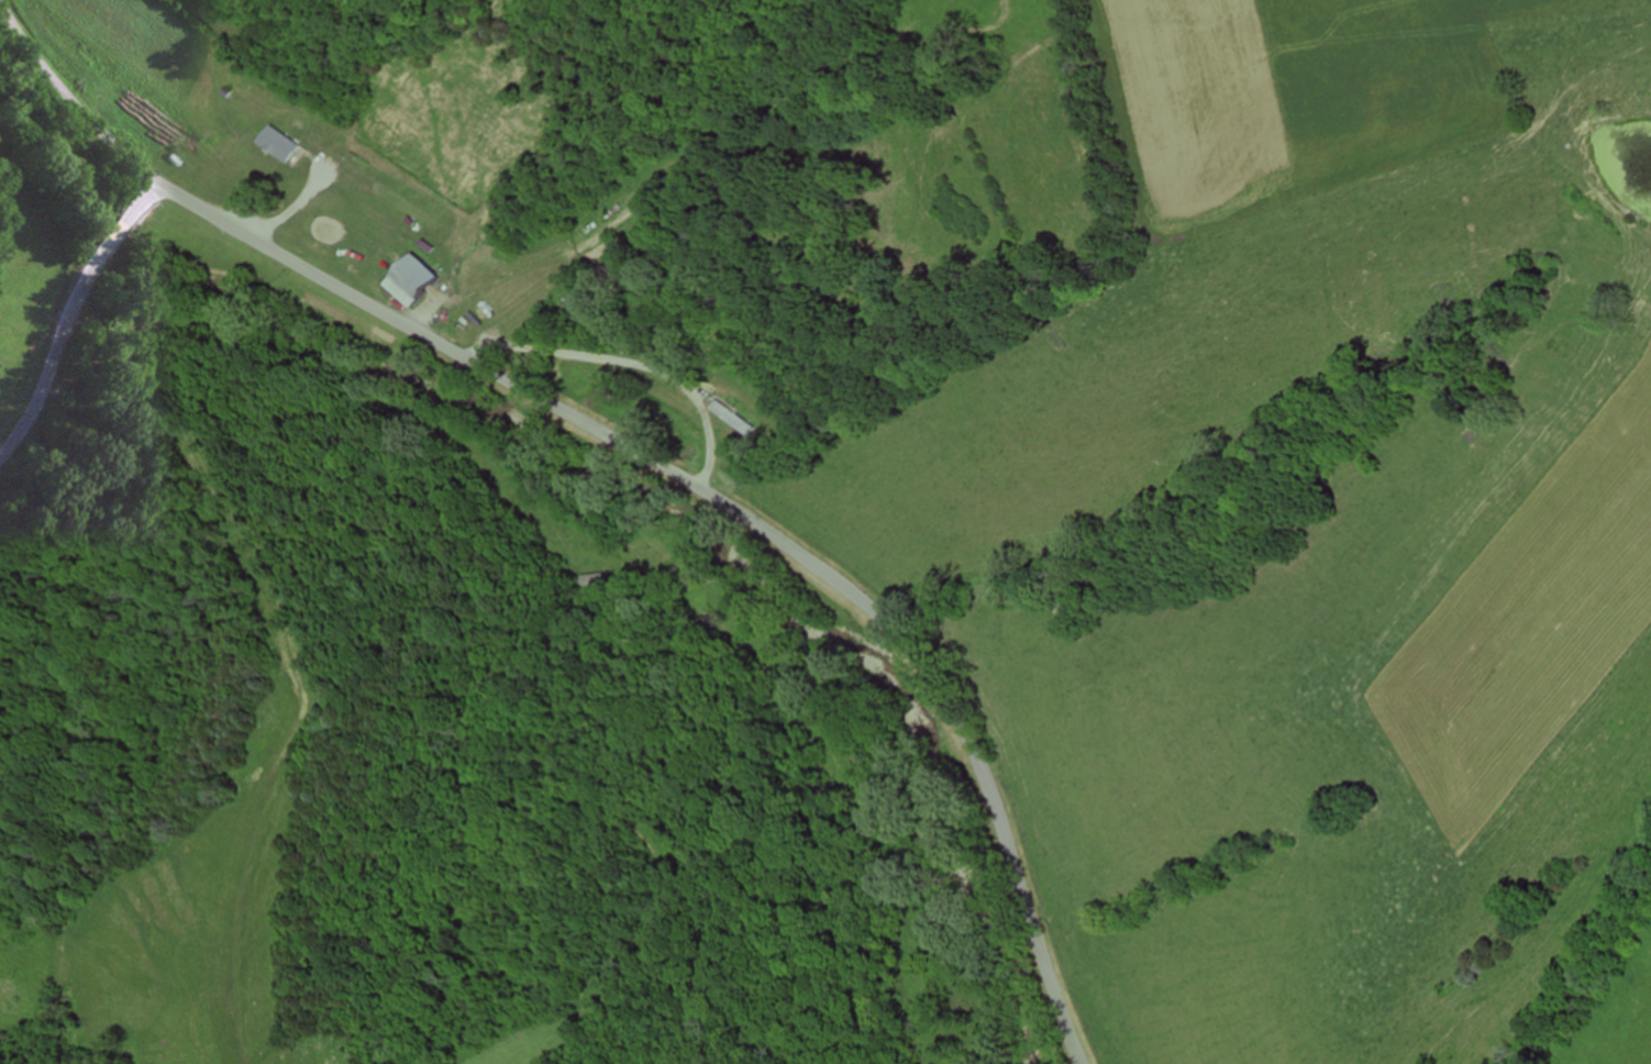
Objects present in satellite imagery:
building: (281, 143)
building: (418, 281)
road: (69, 314)
building: (733, 418)
road: (636, 452)

